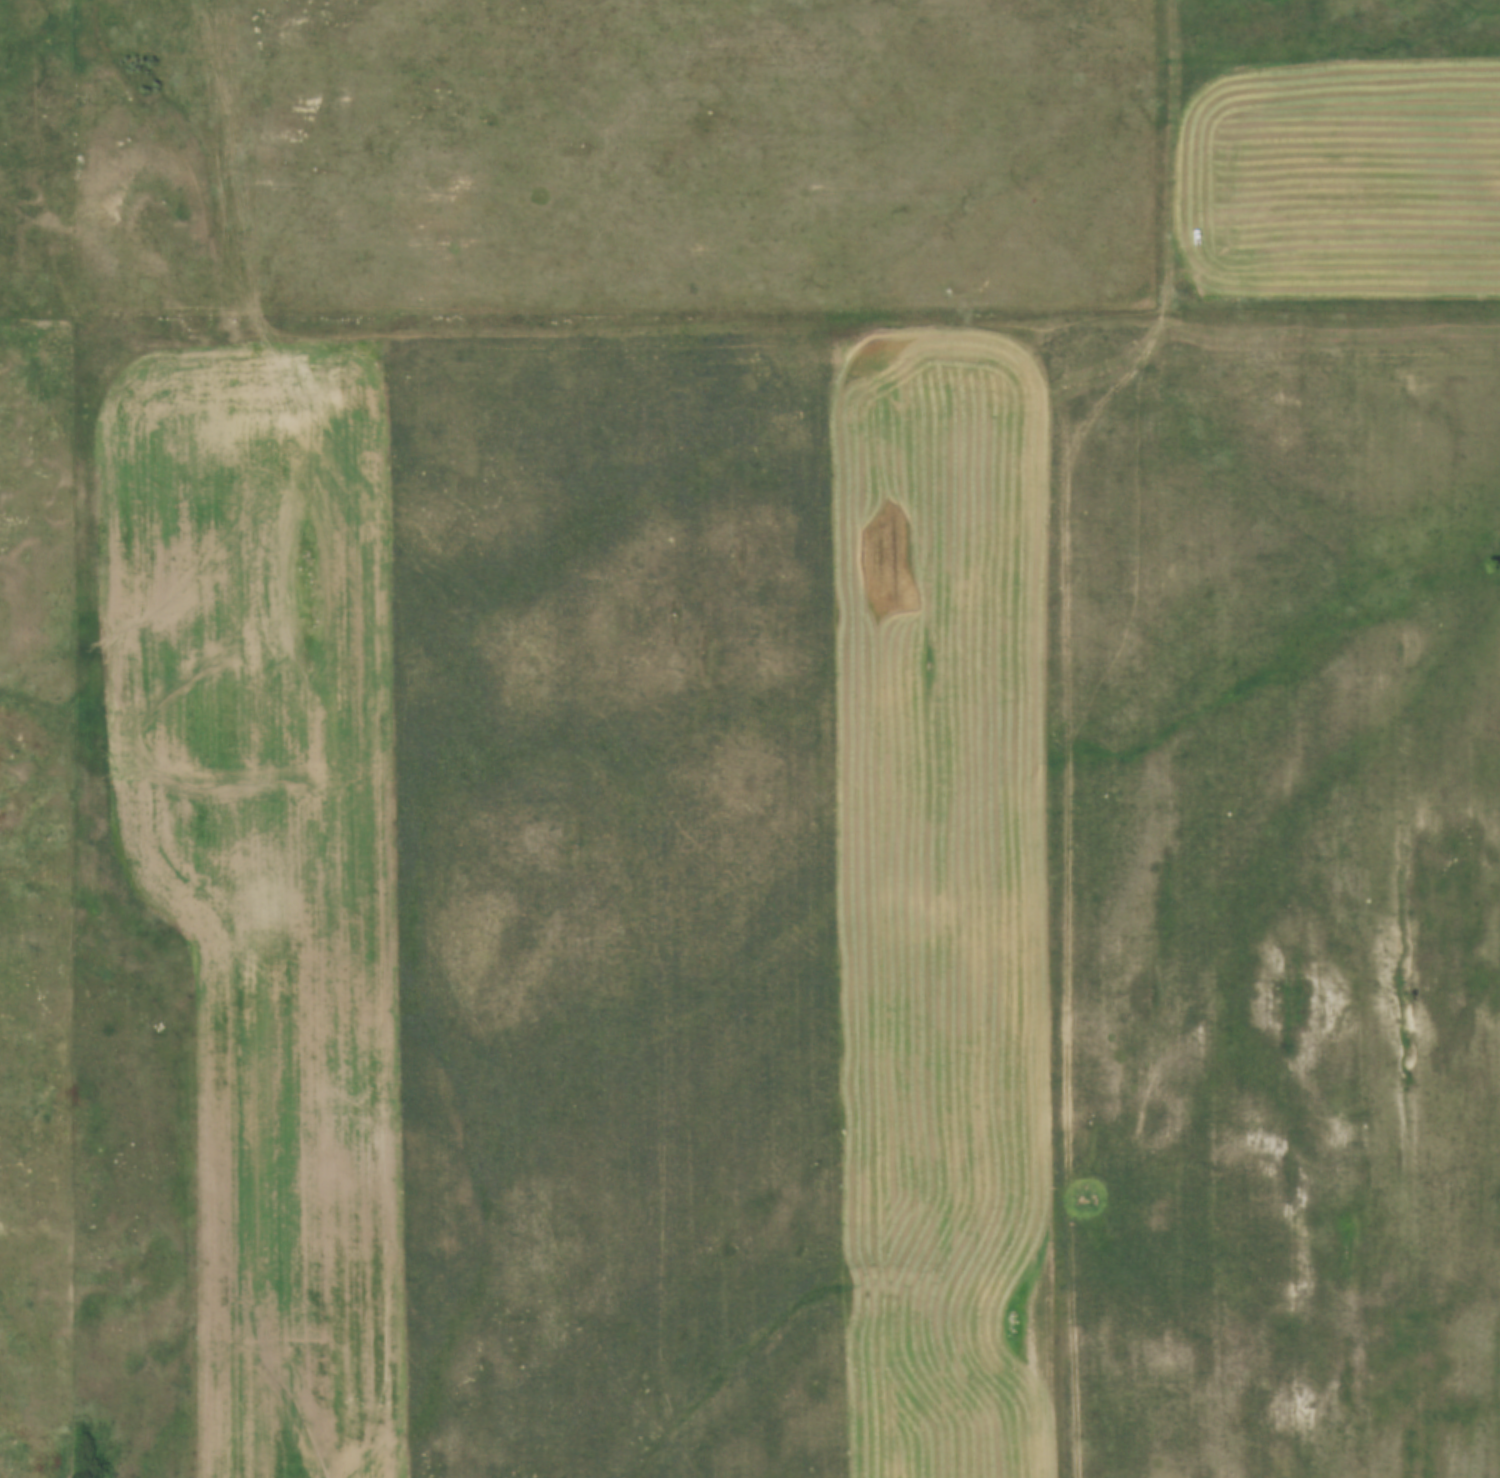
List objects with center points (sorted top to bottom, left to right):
road: (690, 331)
road: (1058, 903)

